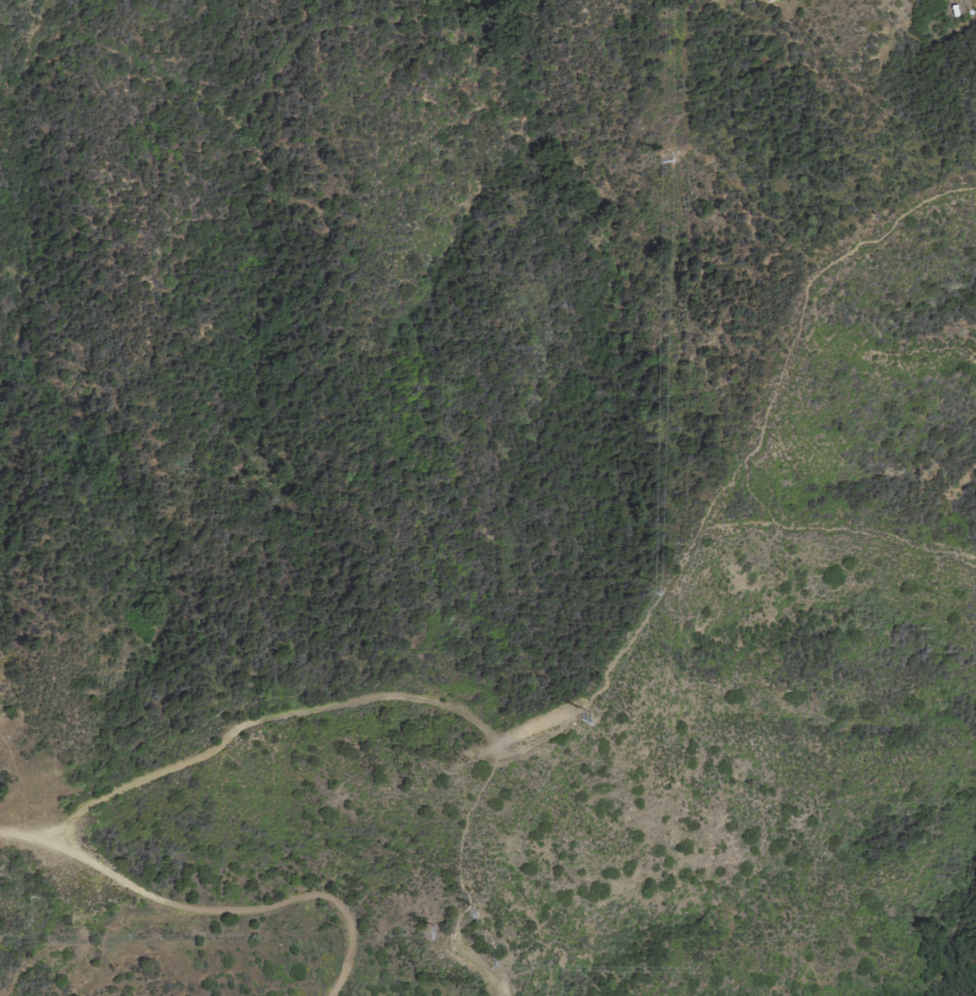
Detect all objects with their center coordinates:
road: (760, 427)
road: (348, 703)
road: (458, 849)
road: (210, 912)
road: (481, 970)

